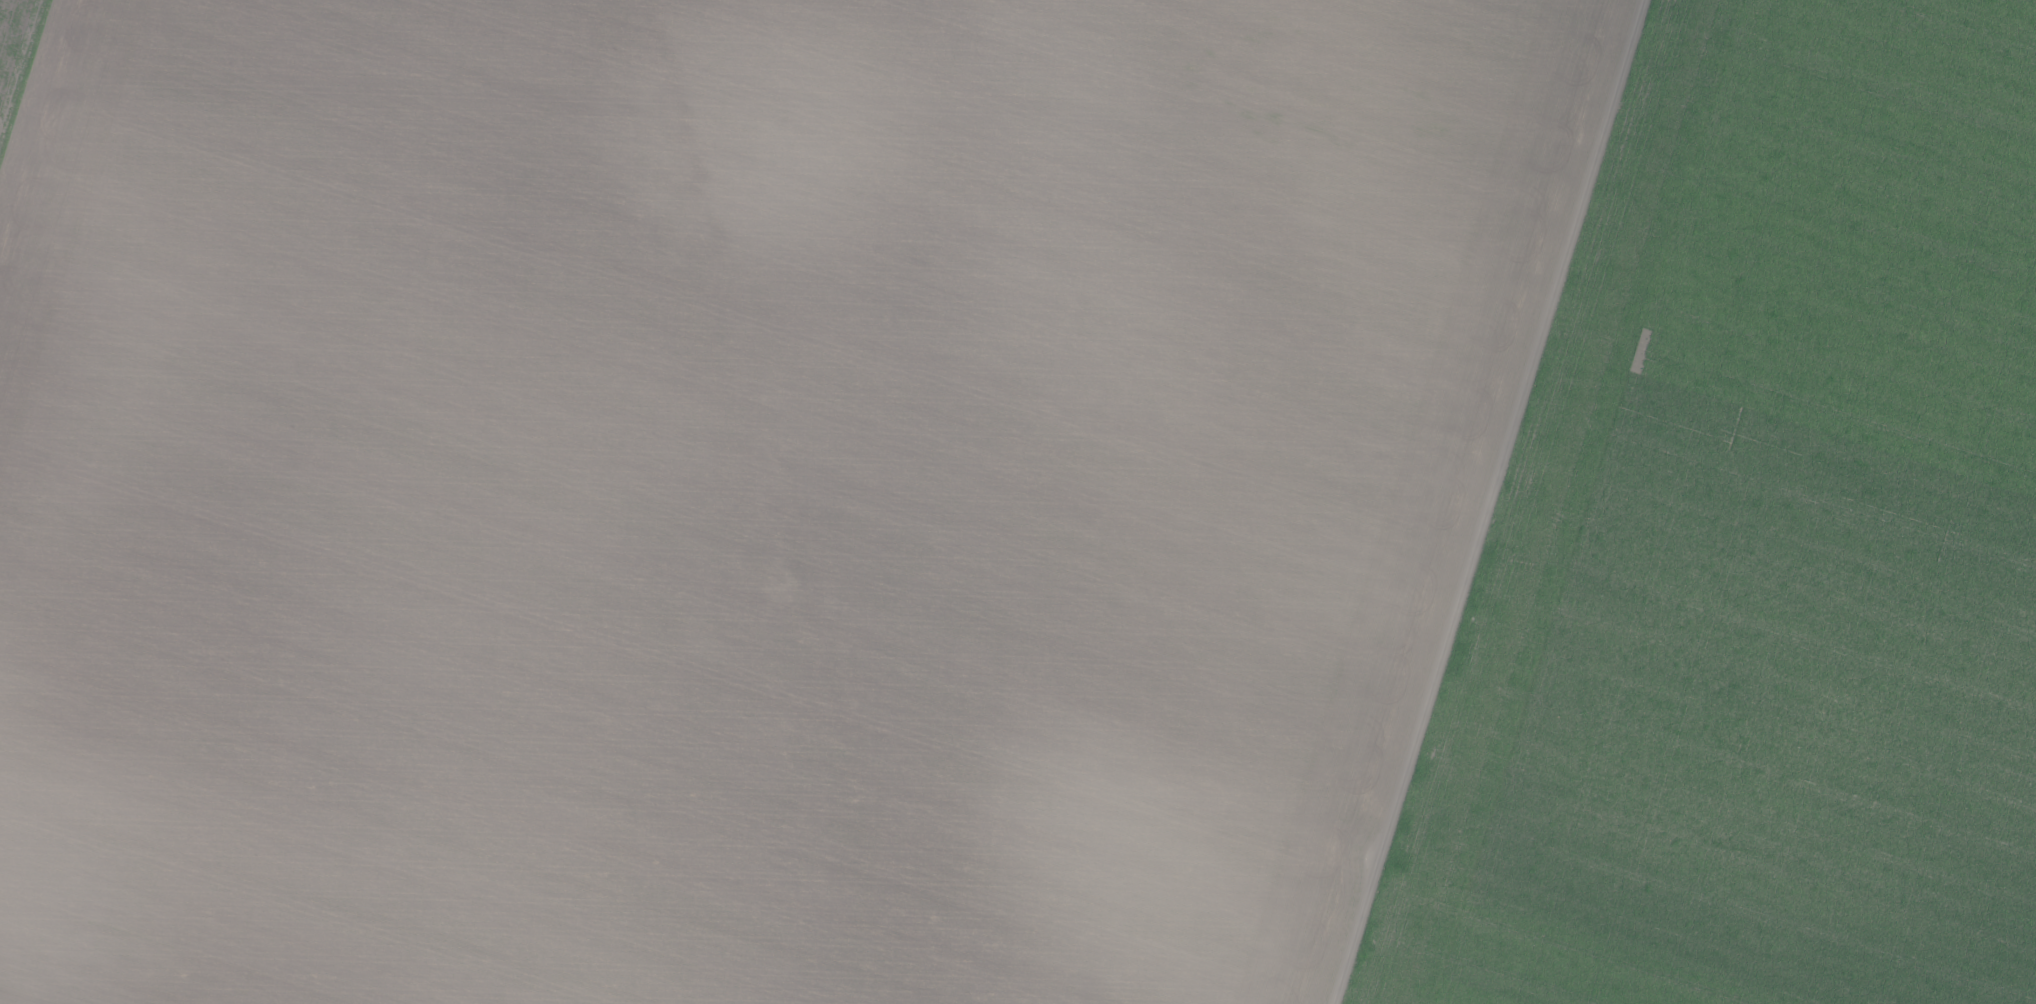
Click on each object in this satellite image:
road: (1486, 502)

